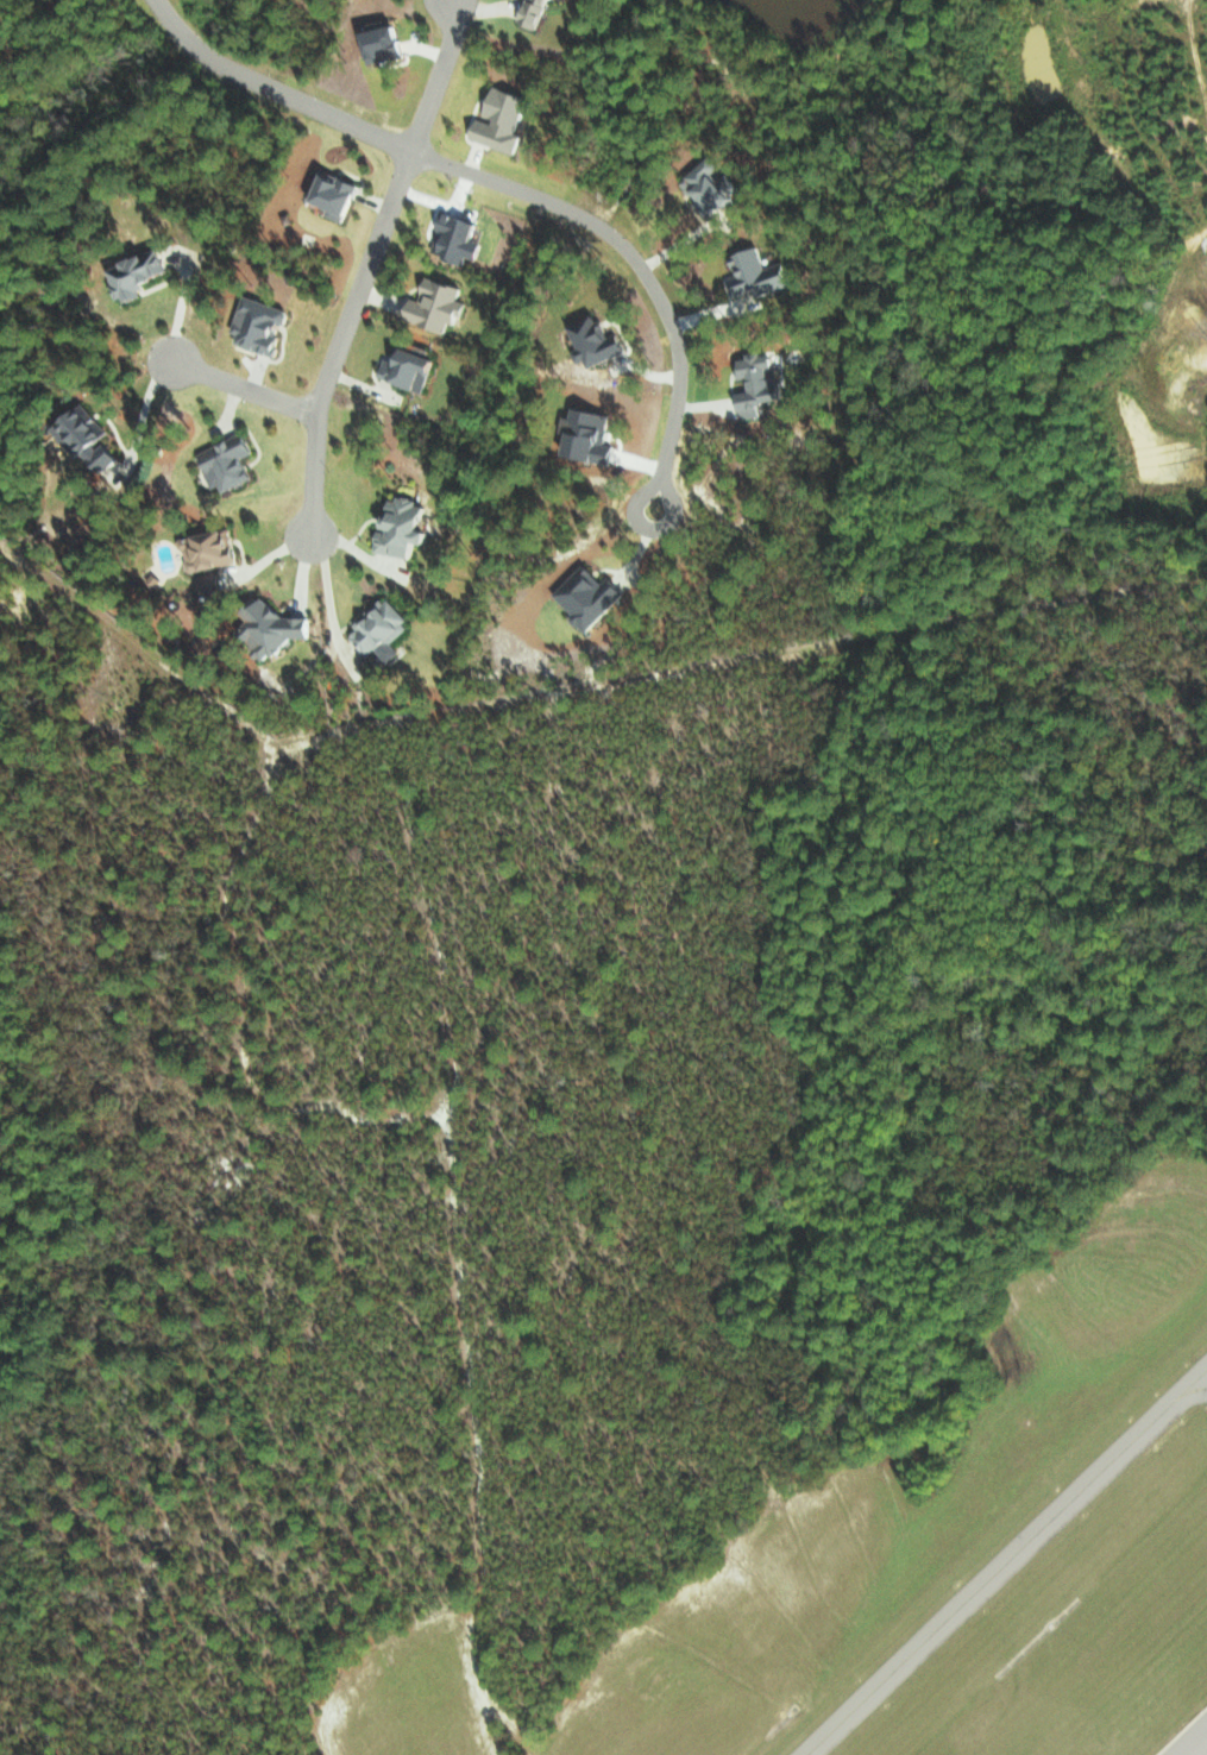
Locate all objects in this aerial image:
building: (536, 12)
building: (388, 42)
road: (271, 90)
building: (503, 121)
building: (715, 187)
building: (338, 194)
road: (365, 264)
building: (759, 273)
building: (142, 275)
building: (440, 304)
road: (666, 307)
building: (264, 325)
building: (599, 340)
building: (413, 367)
building: (761, 383)
road: (241, 389)
building: (92, 436)
building: (231, 461)
building: (409, 529)
building: (213, 549)
building: (212, 584)
building: (592, 596)
building: (279, 627)
building: (384, 629)
airport taxiway: (1192, 1389)
airport taxiway: (1006, 1561)
airport: (967, 1585)

